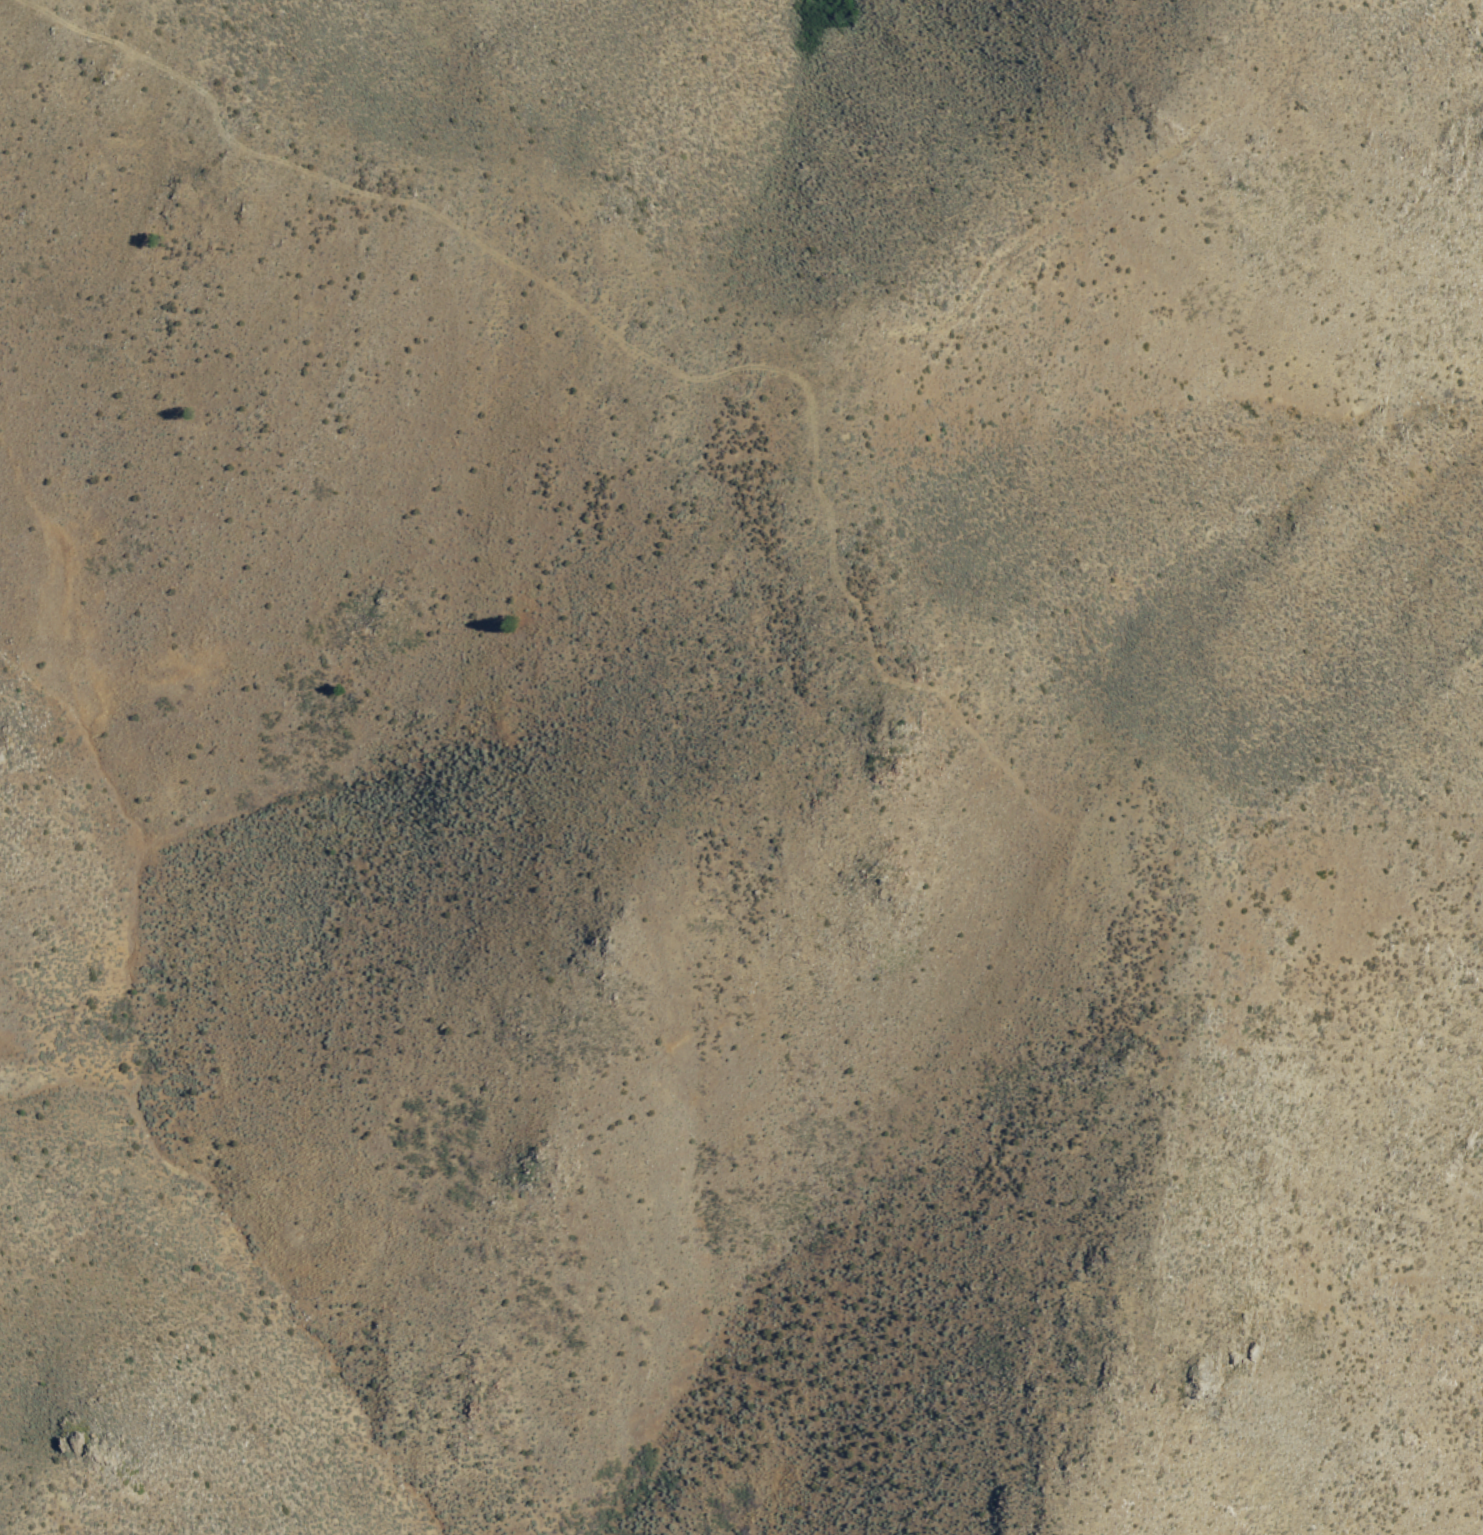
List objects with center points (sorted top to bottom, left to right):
road: (94, 33)

